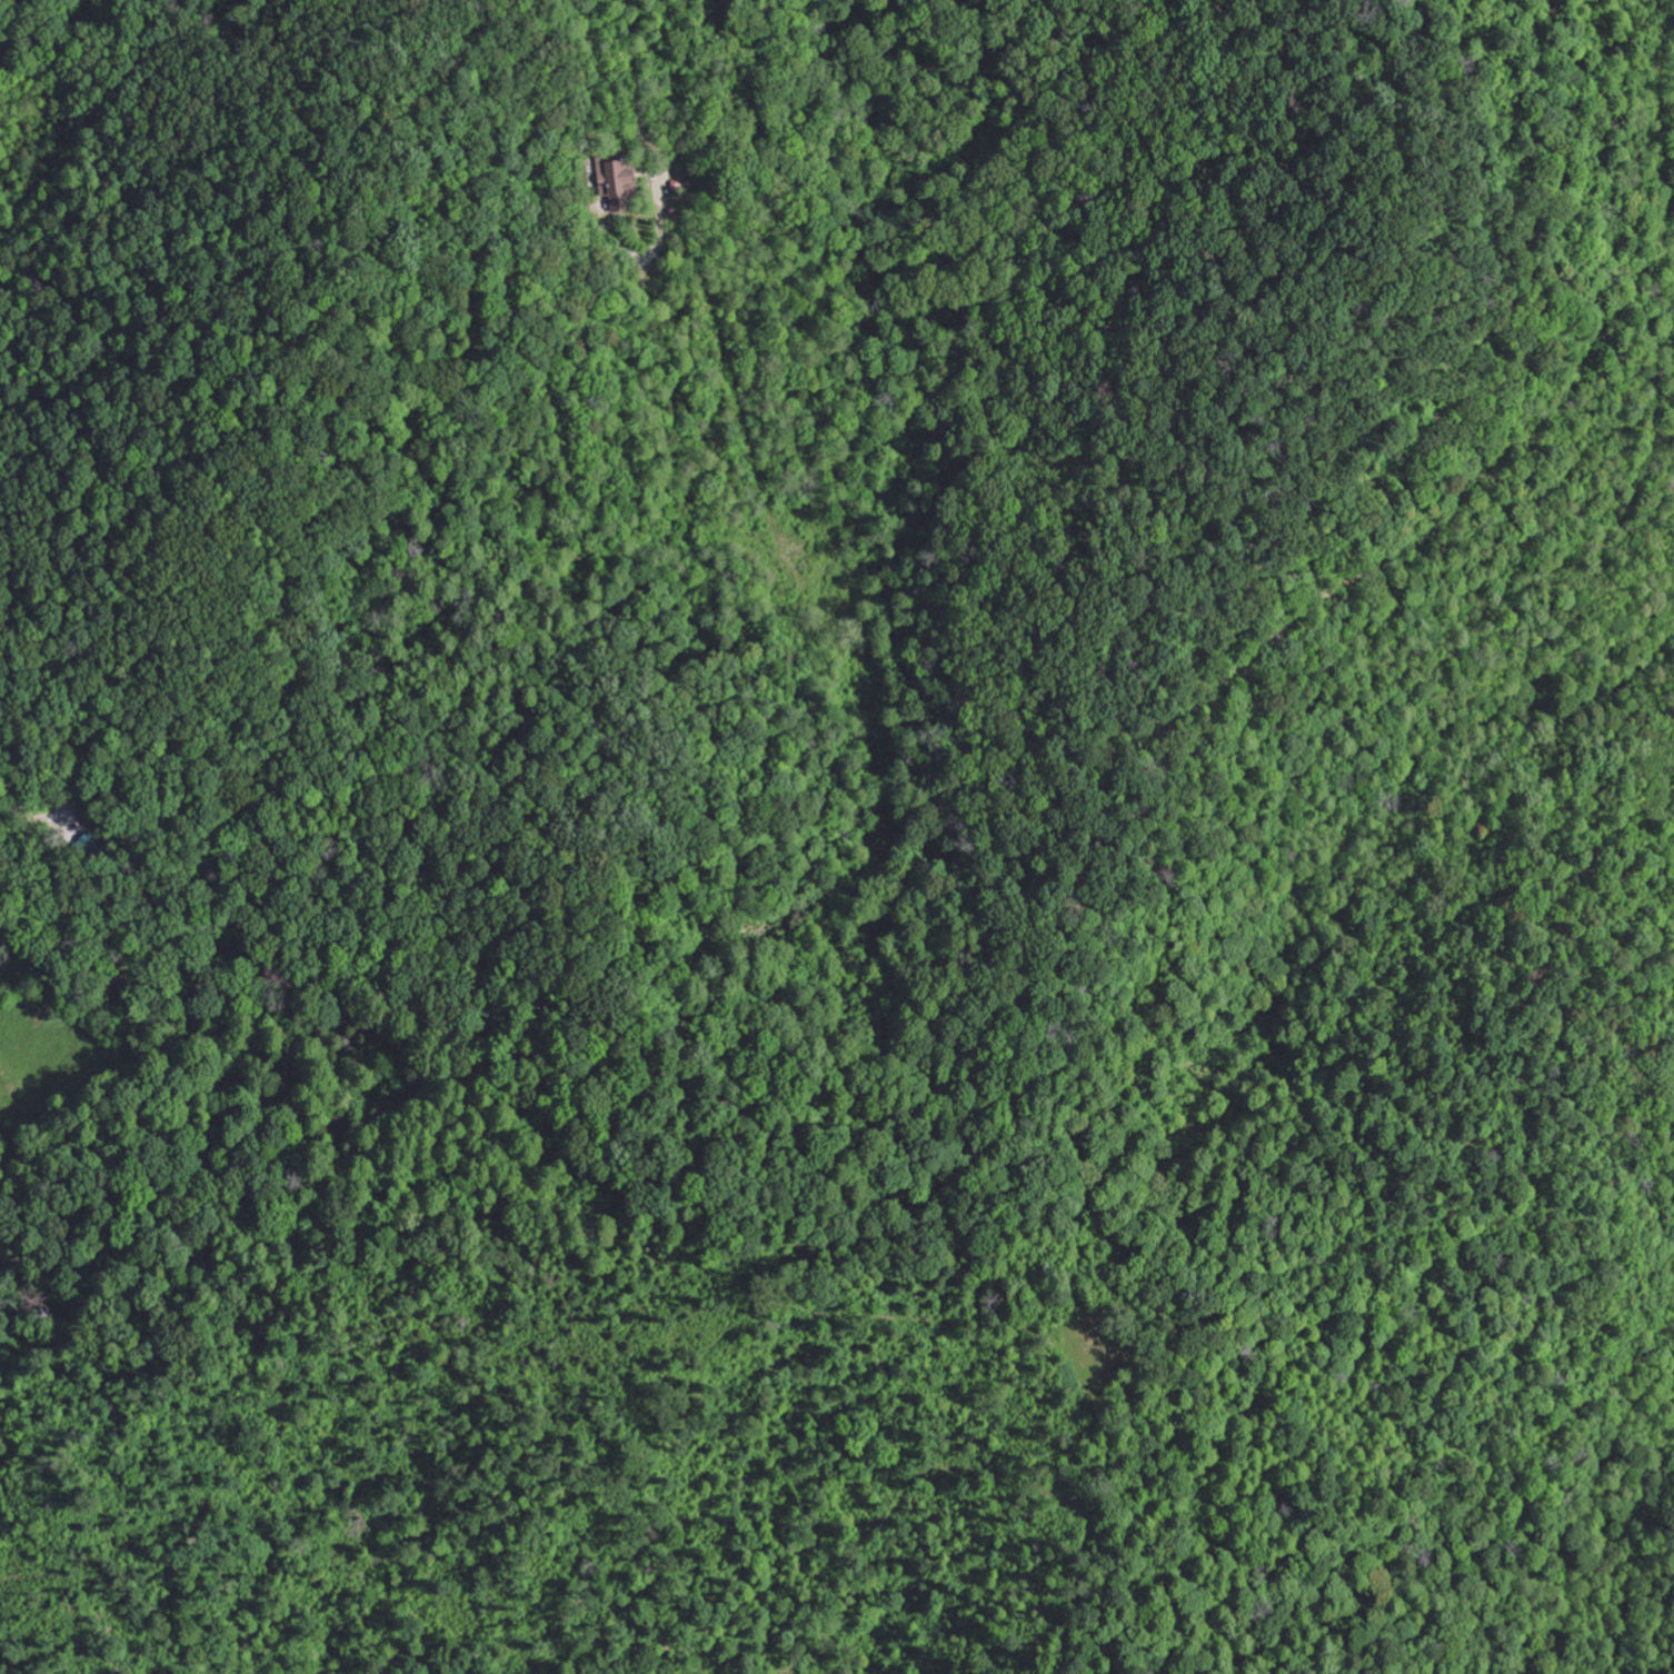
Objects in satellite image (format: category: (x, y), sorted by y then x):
road: (14, 22)
road: (1311, 110)

